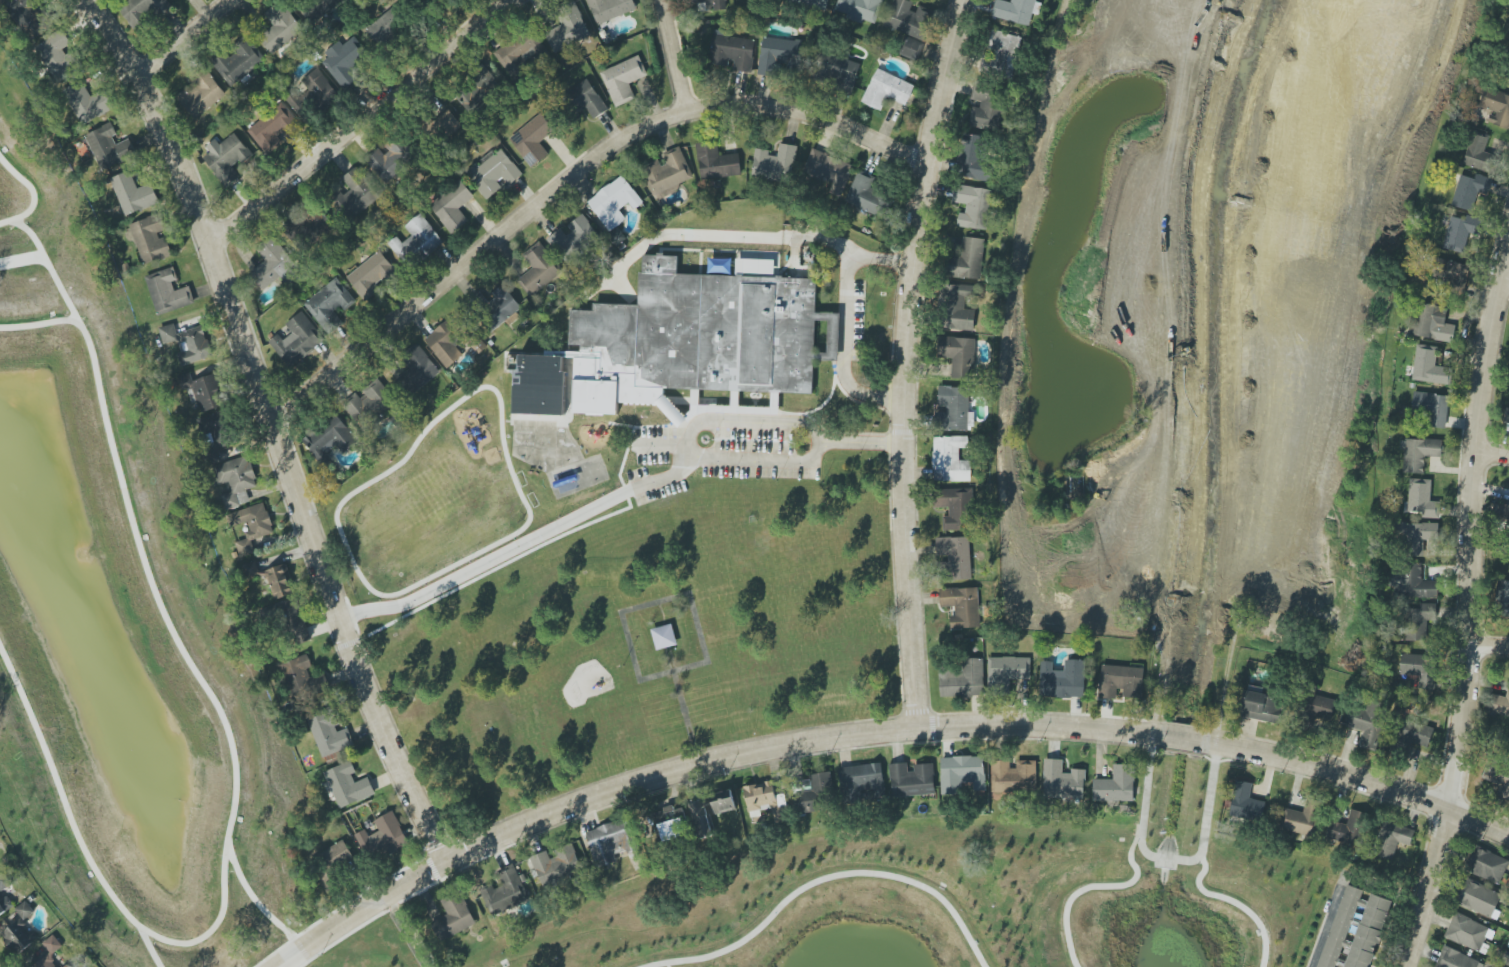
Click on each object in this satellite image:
building: (2, 1)
building: (714, 3)
building: (811, 3)
building: (317, 7)
building: (610, 9)
building: (860, 9)
building: (142, 10)
building: (1014, 10)
building: (29, 17)
building: (908, 19)
building: (387, 26)
building: (280, 28)
building: (568, 31)
road: (188, 37)
building: (1003, 47)
building: (910, 48)
building: (733, 51)
building: (520, 52)
building: (779, 53)
building: (58, 56)
road: (675, 56)
building: (238, 61)
building: (345, 61)
building: (841, 70)
building: (1506, 74)
building: (623, 79)
building: (320, 88)
building: (478, 90)
building: (886, 90)
building: (201, 95)
building: (588, 98)
building: (84, 102)
building: (300, 105)
building: (1496, 107)
building: (986, 108)
road: (363, 121)
building: (449, 122)
building: (274, 129)
building: (532, 139)
building: (109, 147)
building: (1479, 154)
building: (226, 158)
building: (975, 158)
building: (390, 159)
building: (716, 162)
building: (775, 163)
building: (828, 169)
building: (493, 172)
building: (667, 172)
road: (567, 183)
building: (1469, 191)
building: (357, 192)
road: (32, 194)
building: (133, 194)
building: (867, 196)
building: (614, 202)
building: (452, 206)
building: (973, 206)
building: (314, 224)
building: (1461, 232)
road: (1062, 234)
building: (151, 238)
building: (574, 238)
building: (416, 241)
building: (968, 260)
building: (272, 264)
road: (49, 267)
building: (539, 268)
building: (1451, 273)
building: (371, 275)
road: (1506, 278)
building: (167, 291)
building: (330, 304)
building: (500, 308)
building: (959, 308)
road: (844, 318)
building: (1432, 323)
building: (168, 333)
building: (297, 340)
building: (446, 342)
building: (680, 342)
building: (195, 346)
building: (958, 355)
road: (905, 360)
building: (1429, 366)
building: (418, 369)
building: (204, 391)
building: (369, 401)
building: (1432, 408)
building: (954, 409)
building: (1507, 416)
road: (753, 424)
road: (263, 428)
building: (217, 430)
building: (330, 437)
road: (665, 439)
road: (862, 441)
road: (691, 445)
road: (1493, 453)
building: (1418, 454)
road: (763, 457)
building: (950, 459)
road: (1078, 466)
road: (674, 473)
building: (235, 481)
park: (1136, 485)
building: (1422, 499)
road: (1299, 507)
building: (956, 508)
building: (252, 525)
building: (1416, 537)
building: (955, 556)
road: (490, 560)
building: (251, 569)
building: (279, 581)
building: (1414, 582)
building: (1503, 597)
building: (962, 606)
road: (160, 607)
road: (1474, 614)
building: (1418, 621)
park: (131, 627)
building: (664, 637)
park: (648, 639)
road: (1491, 647)
river: (1196, 649)
road: (707, 662)
building: (1419, 669)
building: (1008, 670)
road: (1159, 673)
building: (302, 678)
building: (963, 679)
building: (1063, 680)
building: (1121, 681)
building: (1498, 704)
building: (1320, 706)
building: (1262, 707)
road: (686, 717)
building: (1364, 722)
road: (877, 732)
building: (330, 734)
building: (1413, 734)
river: (1180, 740)
building: (962, 774)
building: (1498, 777)
building: (912, 779)
building: (1012, 779)
building: (1062, 781)
building: (862, 782)
building: (348, 785)
building: (1116, 785)
river: (1174, 793)
building: (813, 794)
building: (762, 798)
building: (723, 801)
building: (1246, 803)
road: (69, 815)
building: (1300, 818)
building: (701, 821)
building: (1349, 829)
building: (382, 837)
building: (1393, 840)
building: (611, 842)
building: (336, 858)
river: (1166, 860)
building: (1486, 865)
building: (556, 866)
road: (825, 878)
building: (3, 882)
road: (1095, 886)
building: (506, 892)
building: (1479, 899)
river: (1162, 900)
road: (256, 901)
building: (5, 905)
building: (25, 910)
building: (454, 917)
road: (1325, 923)
building: (1353, 929)
building: (1468, 933)
building: (19, 937)
road: (149, 946)
building: (50, 952)
building: (1455, 959)
building: (1507, 962)
building: (67, 966)

